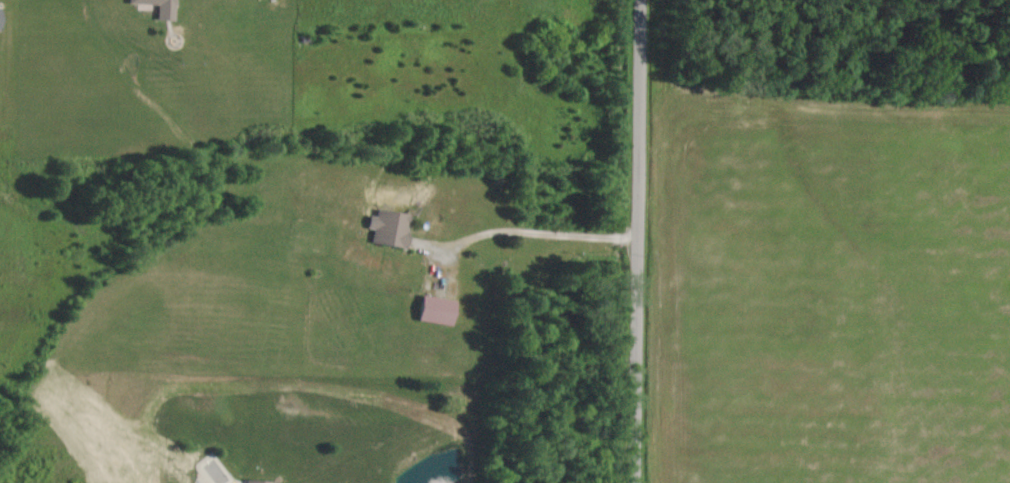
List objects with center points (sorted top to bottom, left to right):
building: (165, 8)
building: (2, 18)
building: (393, 229)
road: (638, 241)
building: (442, 311)

